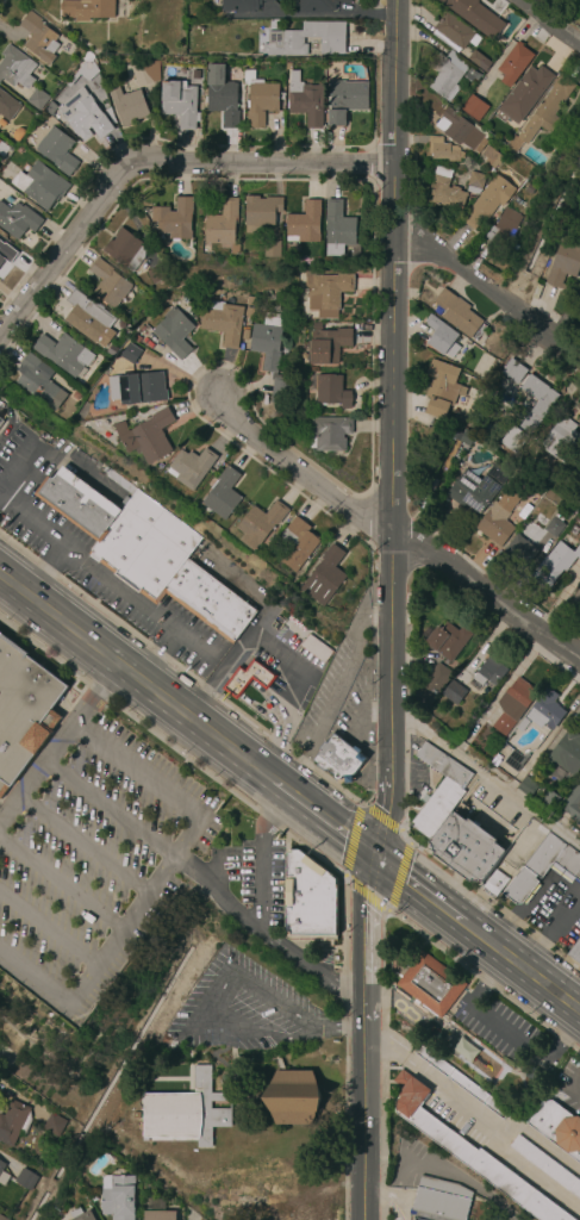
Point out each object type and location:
building: (238, 5)
building: (316, 5)
building: (86, 8)
building: (475, 15)
road: (331, 18)
road: (540, 32)
building: (453, 33)
building: (39, 38)
building: (285, 41)
building: (479, 61)
building: (514, 63)
building: (15, 68)
building: (144, 71)
building: (106, 74)
building: (447, 74)
building: (222, 95)
building: (524, 95)
building: (37, 98)
building: (260, 99)
building: (305, 100)
building: (345, 100)
building: (179, 102)
building: (127, 105)
building: (7, 106)
building: (51, 108)
building: (474, 108)
building: (543, 112)
building: (85, 116)
building: (461, 130)
building: (2, 149)
building: (442, 149)
building: (57, 150)
building: (550, 150)
building: (492, 157)
road: (155, 163)
building: (475, 182)
building: (40, 185)
building: (445, 188)
building: (529, 189)
building: (488, 201)
building: (261, 212)
building: (18, 219)
building: (175, 219)
building: (305, 224)
building: (224, 225)
building: (338, 229)
building: (504, 229)
building: (273, 248)
building: (125, 250)
building: (7, 251)
building: (565, 262)
building: (156, 274)
building: (108, 282)
building: (326, 292)
road: (485, 294)
building: (182, 300)
building: (457, 313)
building: (87, 316)
building: (223, 322)
building: (174, 331)
building: (441, 337)
building: (136, 338)
building: (267, 341)
building: (329, 344)
building: (64, 353)
building: (129, 354)
building: (509, 376)
building: (39, 381)
road: (391, 387)
building: (138, 388)
building: (279, 388)
building: (330, 390)
building: (442, 390)
building: (76, 396)
building: (0, 421)
road: (8, 421)
building: (524, 428)
building: (330, 432)
building: (456, 435)
building: (148, 436)
building: (467, 437)
building: (561, 438)
road: (66, 457)
road: (17, 463)
building: (191, 467)
road: (301, 471)
building: (475, 488)
building: (222, 494)
building: (541, 522)
building: (261, 523)
building: (495, 525)
building: (554, 528)
building: (298, 543)
building: (146, 552)
building: (522, 552)
parking lot: (92, 560)
building: (555, 565)
road: (44, 569)
building: (325, 577)
road: (106, 578)
road: (233, 580)
building: (579, 600)
road: (485, 608)
road: (366, 620)
building: (447, 640)
building: (316, 648)
road: (157, 655)
road: (226, 660)
road: (291, 660)
road: (121, 666)
parking lot: (287, 667)
building: (489, 672)
building: (248, 678)
parking lot: (333, 678)
road: (379, 680)
building: (432, 684)
road: (337, 687)
road: (261, 690)
building: (454, 693)
road: (360, 705)
building: (513, 705)
road: (252, 707)
building: (23, 710)
parking lot: (356, 710)
building: (545, 711)
road: (283, 714)
road: (277, 736)
road: (56, 739)
road: (367, 747)
building: (566, 753)
road: (264, 755)
building: (339, 758)
road: (304, 760)
building: (516, 760)
road: (250, 761)
road: (136, 767)
road: (264, 773)
road: (485, 778)
road: (279, 784)
building: (525, 789)
building: (439, 790)
building: (547, 801)
building: (573, 805)
road: (108, 808)
parking lot: (491, 813)
road: (282, 817)
road: (387, 818)
road: (385, 821)
road: (330, 822)
road: (188, 834)
road: (350, 840)
road: (82, 844)
parking lot: (91, 847)
building: (466, 848)
traffic signals: (376, 859)
building: (543, 867)
road: (216, 872)
road: (400, 877)
building: (306, 879)
parking lot: (249, 882)
road: (62, 884)
road: (261, 884)
building: (494, 884)
road: (420, 891)
road: (364, 895)
parking lot: (553, 911)
building: (310, 917)
road: (50, 929)
road: (124, 929)
road: (262, 933)
road: (363, 942)
building: (575, 952)
road: (522, 969)
road: (38, 977)
building: (431, 984)
parking lot: (244, 1010)
road: (204, 1015)
road: (341, 1027)
parking lot: (497, 1029)
road: (504, 1033)
building: (460, 1050)
building: (535, 1076)
building: (462, 1083)
parking lot: (568, 1090)
building: (293, 1098)
building: (186, 1113)
building: (13, 1122)
road: (362, 1123)
building: (54, 1125)
building: (557, 1127)
building: (469, 1152)
building: (547, 1165)
building: (4, 1175)
building: (25, 1178)
building: (118, 1196)
building: (441, 1200)
building: (157, 1210)
building: (81, 1214)
building: (2, 1218)

